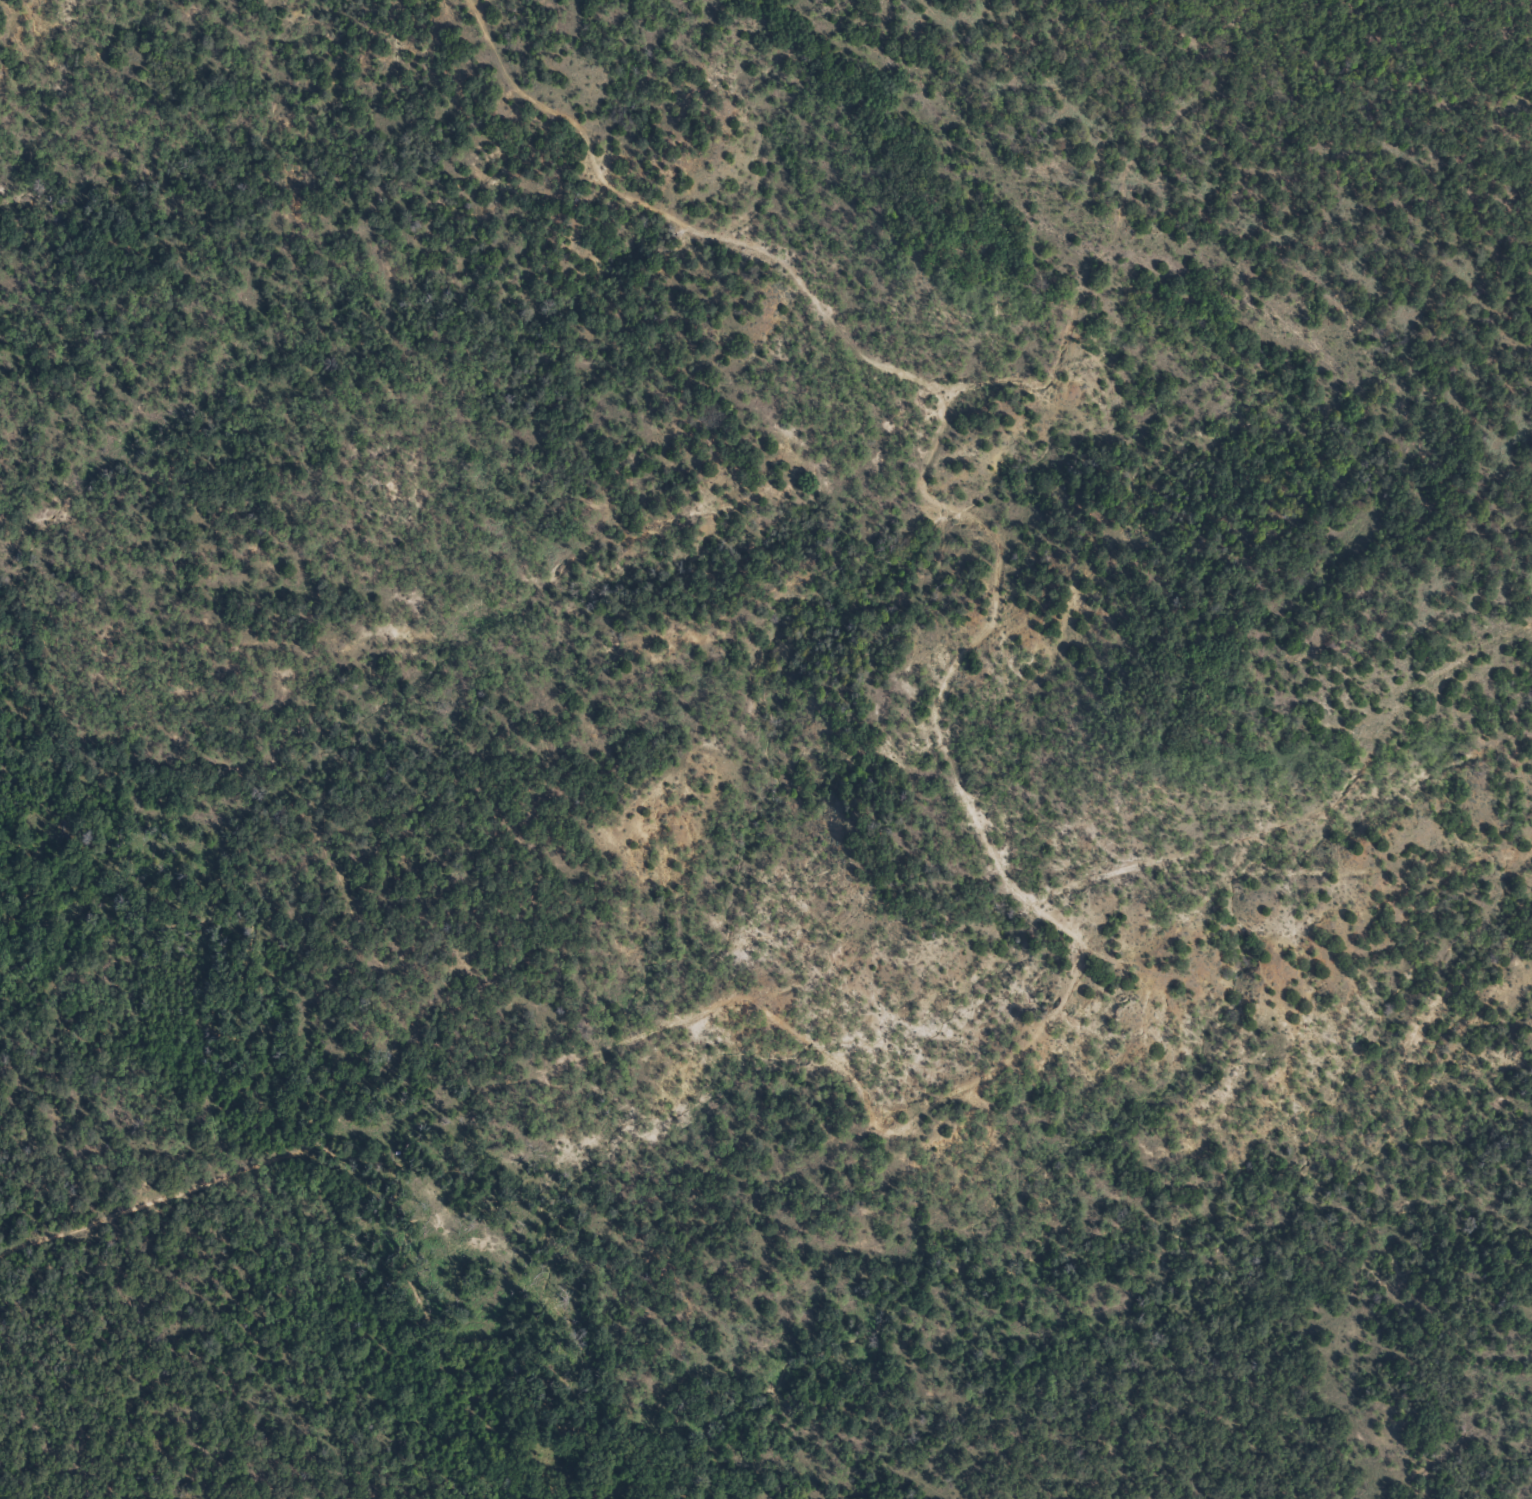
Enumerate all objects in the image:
road: (968, 517)

